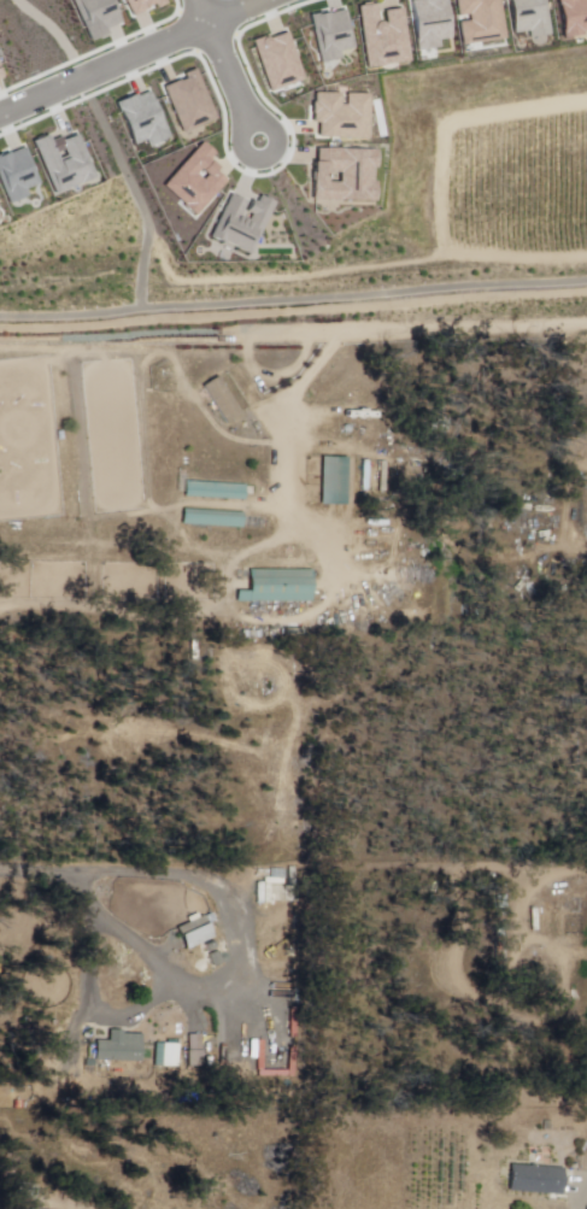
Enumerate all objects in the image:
building: (137, 7)
road: (212, 11)
building: (98, 14)
building: (576, 16)
building: (485, 19)
building: (530, 19)
building: (438, 27)
building: (383, 29)
building: (334, 33)
road: (133, 59)
building: (283, 60)
road: (242, 81)
building: (187, 104)
building: (337, 115)
building: (142, 122)
building: (65, 162)
building: (348, 175)
building: (19, 180)
building: (194, 181)
building: (246, 225)
road: (293, 310)
building: (222, 401)
building: (352, 409)
park: (112, 435)
park: (28, 440)
building: (333, 481)
building: (215, 492)
building: (213, 518)
building: (277, 587)
building: (286, 893)
road: (95, 909)
building: (193, 933)
building: (216, 958)
building: (88, 996)
building: (119, 1049)
building: (195, 1052)
building: (170, 1057)
crop: (386, 1168)
building: (536, 1182)
road: (579, 1204)

